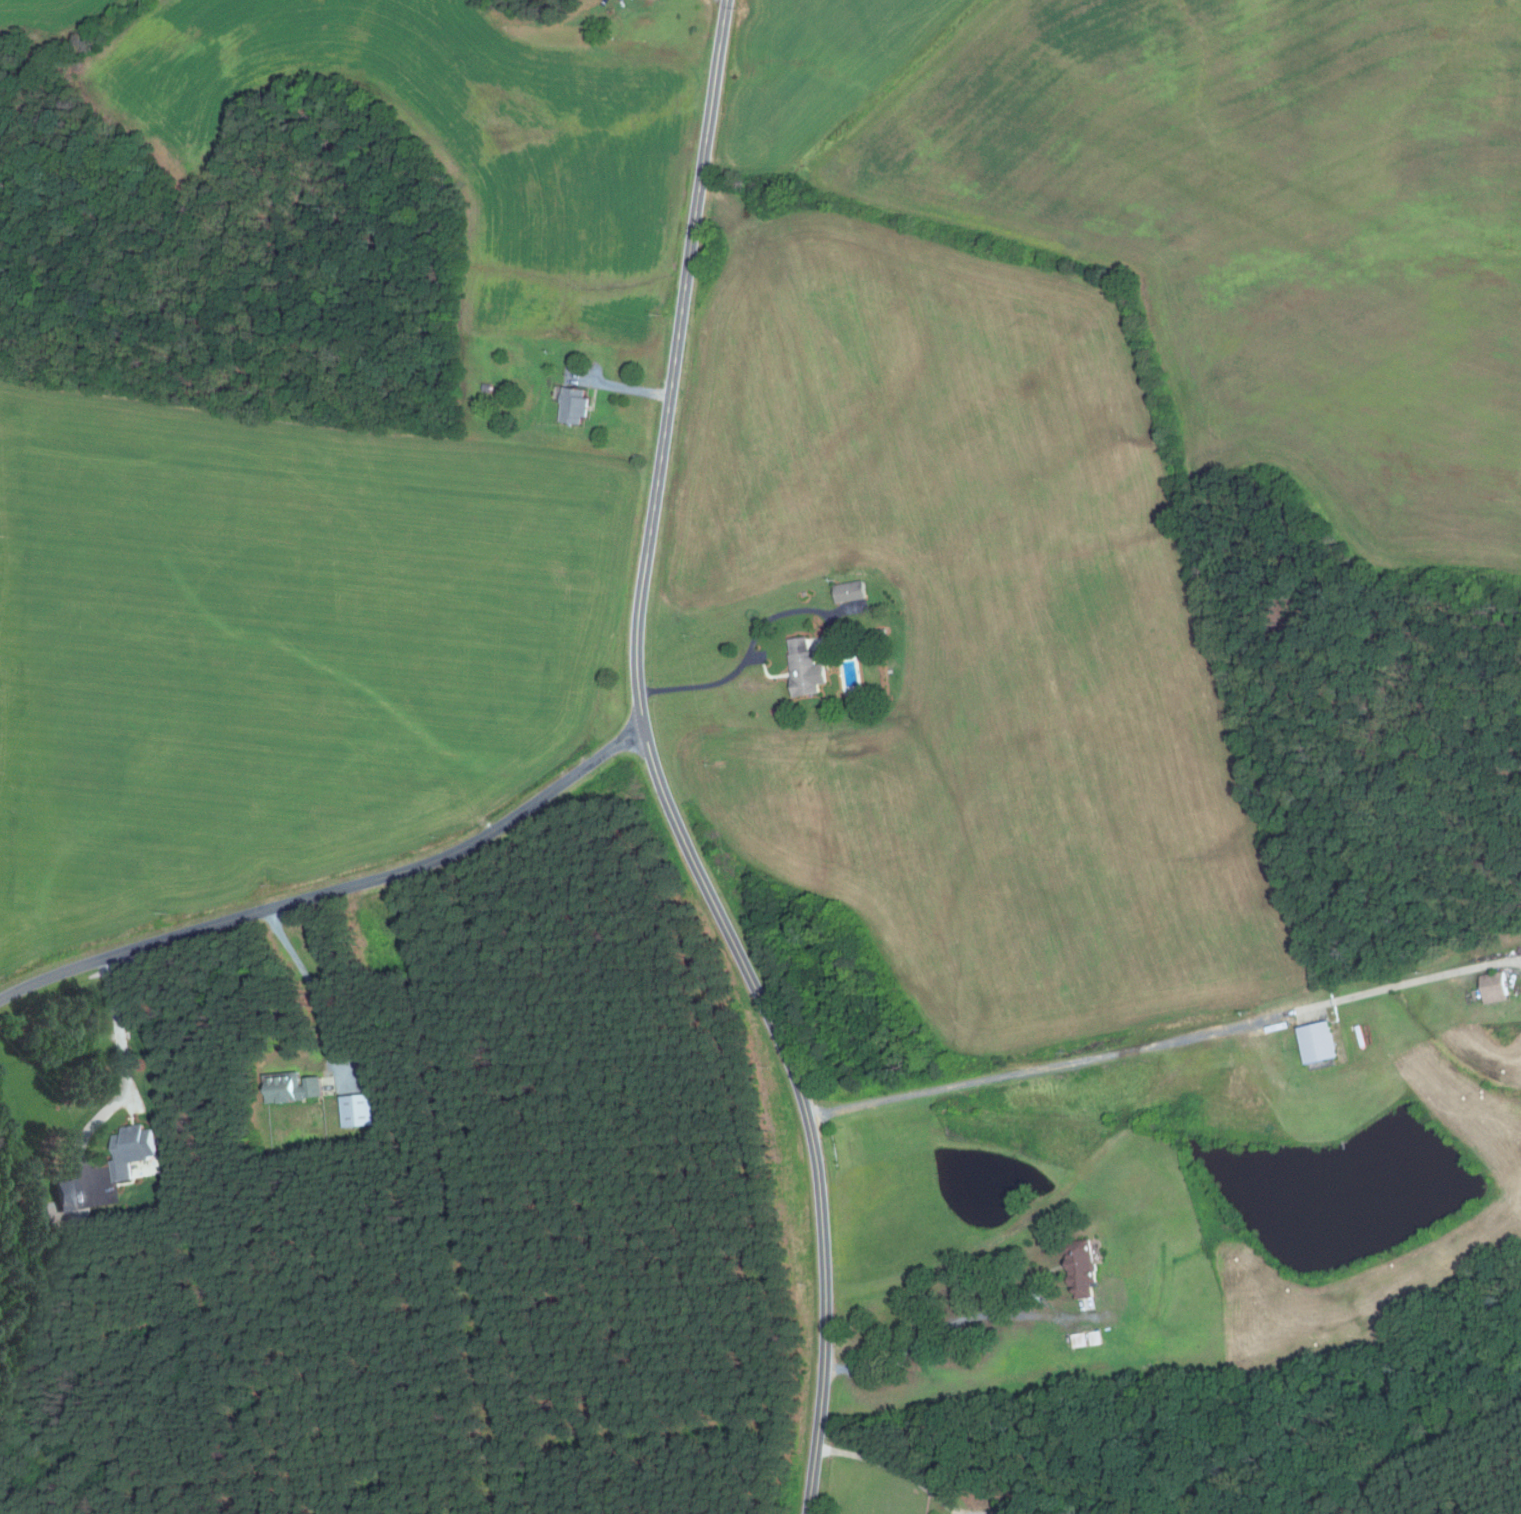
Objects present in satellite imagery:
road: (618, 385)
building: (486, 387)
building: (574, 405)
building: (846, 592)
road: (751, 652)
building: (801, 668)
road: (656, 769)
road: (335, 891)
road: (312, 986)
building: (1490, 988)
road: (117, 1025)
building: (1312, 1043)
building: (292, 1088)
building: (359, 1111)
building: (133, 1150)
building: (65, 1195)
building: (1076, 1269)
road: (974, 1317)
road: (895, 1469)

